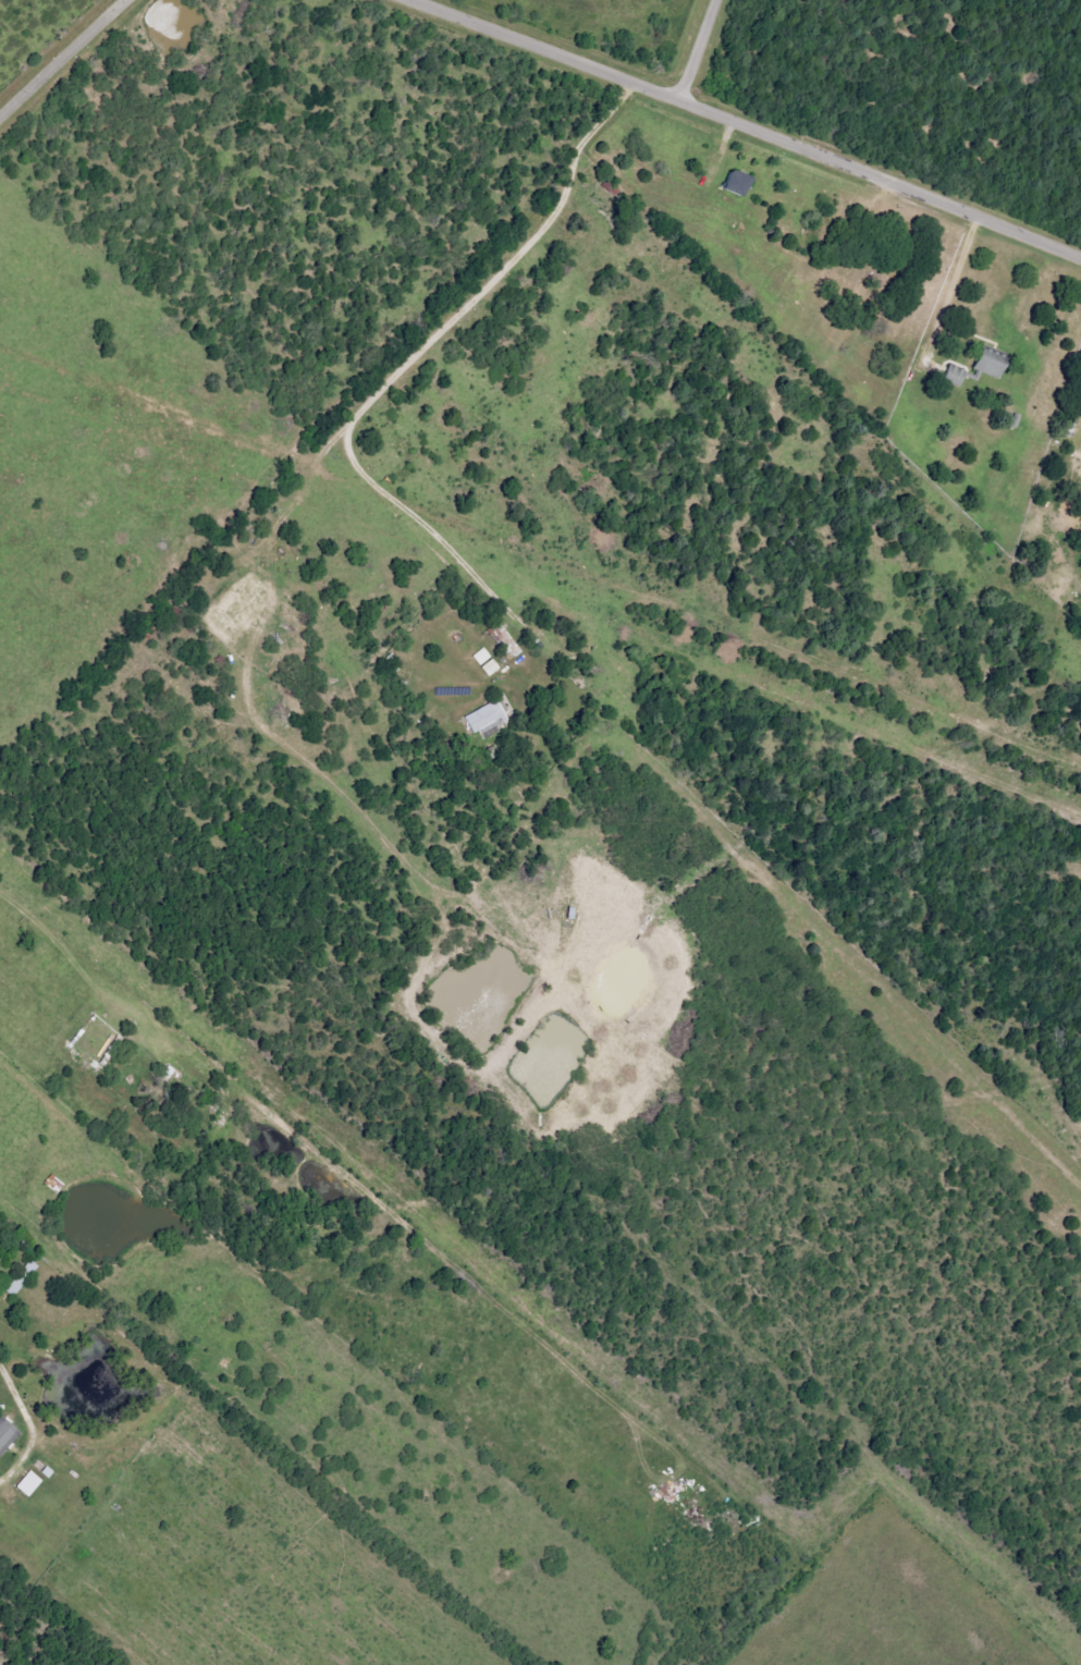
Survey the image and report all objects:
road: (699, 48)
road: (61, 59)
road: (751, 122)
building: (740, 182)
road: (953, 279)
road: (417, 356)
building: (991, 365)
building: (956, 375)
building: (488, 662)
building: (488, 715)
road: (26, 1427)
building: (7, 1433)
building: (30, 1483)

